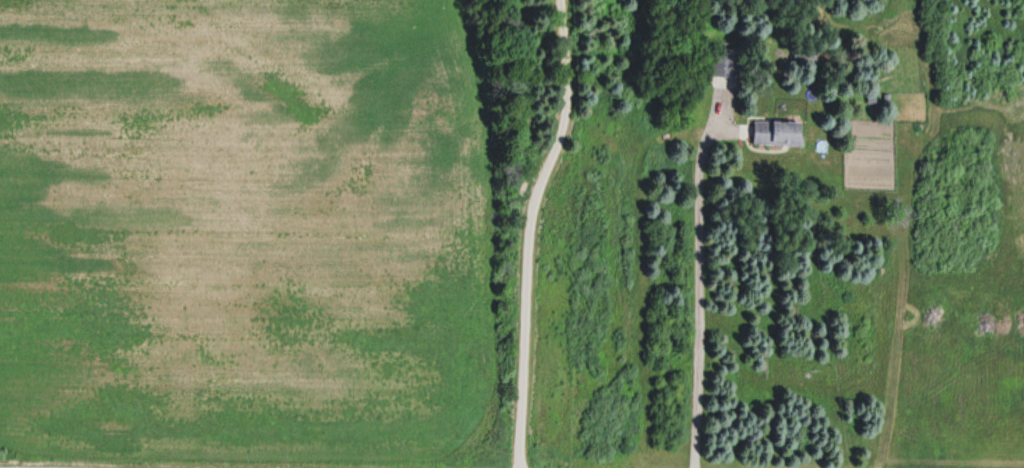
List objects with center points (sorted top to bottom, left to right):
building: (803, 54)
building: (722, 64)
building: (776, 135)

